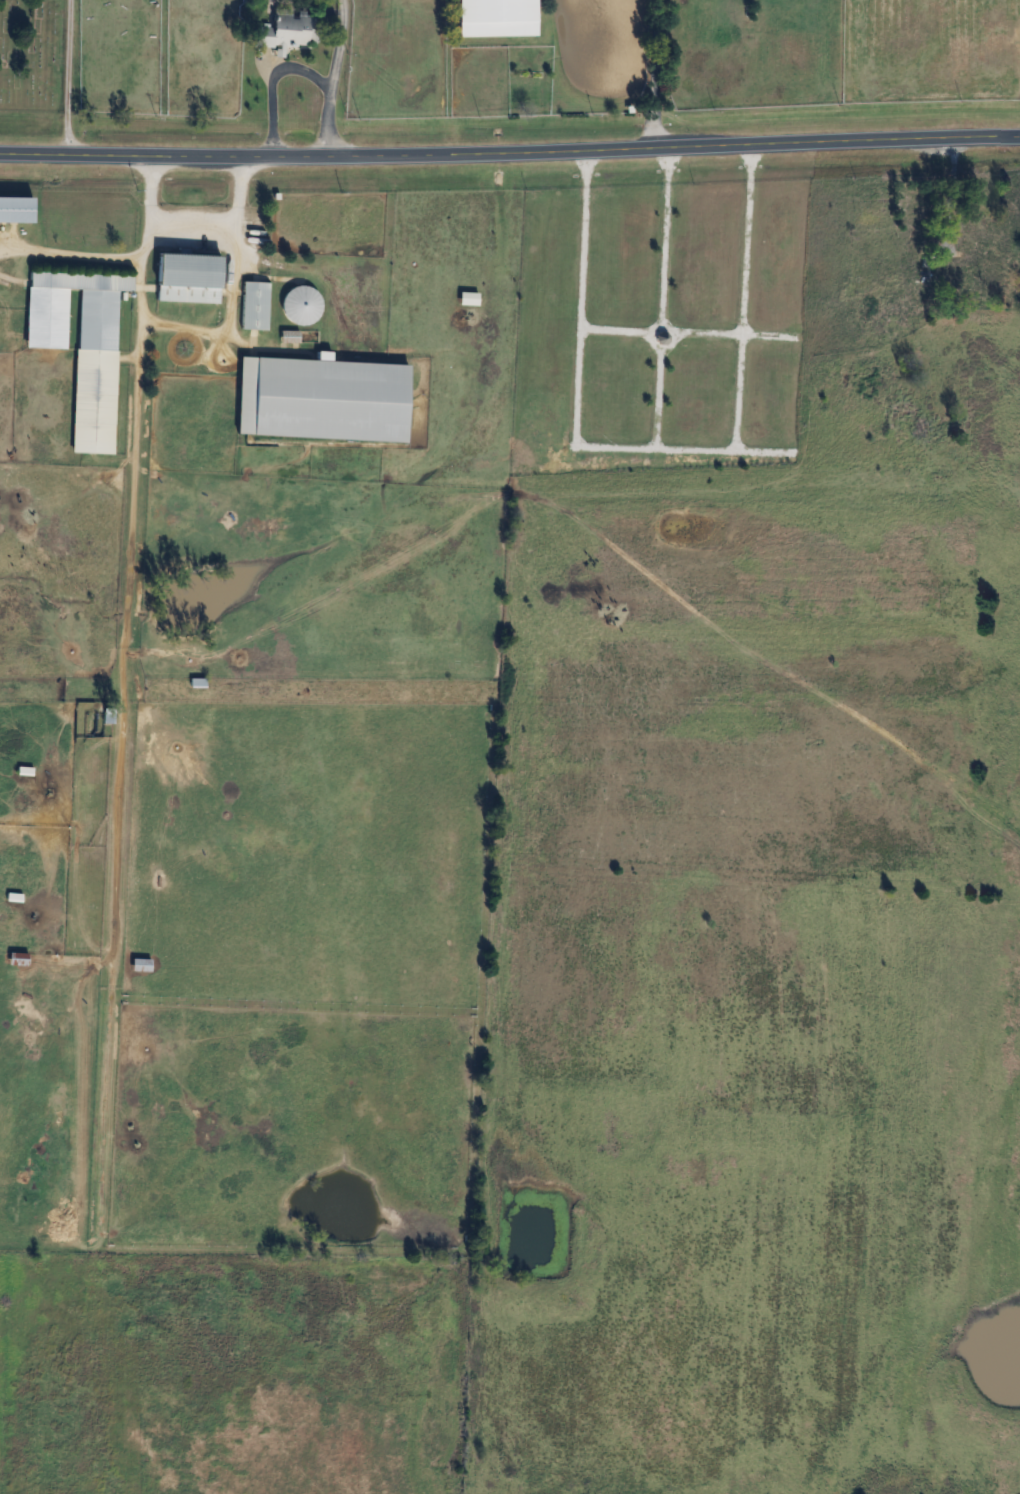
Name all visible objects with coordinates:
building: (496, 18)
building: (290, 32)
park: (39, 56)
road: (654, 73)
road: (333, 77)
road: (271, 82)
road: (510, 152)
building: (15, 209)
road: (196, 222)
building: (983, 247)
road: (122, 254)
building: (188, 277)
road: (237, 284)
building: (468, 299)
building: (254, 305)
building: (299, 305)
building: (902, 324)
building: (289, 337)
building: (82, 345)
building: (321, 399)
road: (132, 608)
building: (197, 682)
building: (17, 959)
building: (141, 965)

